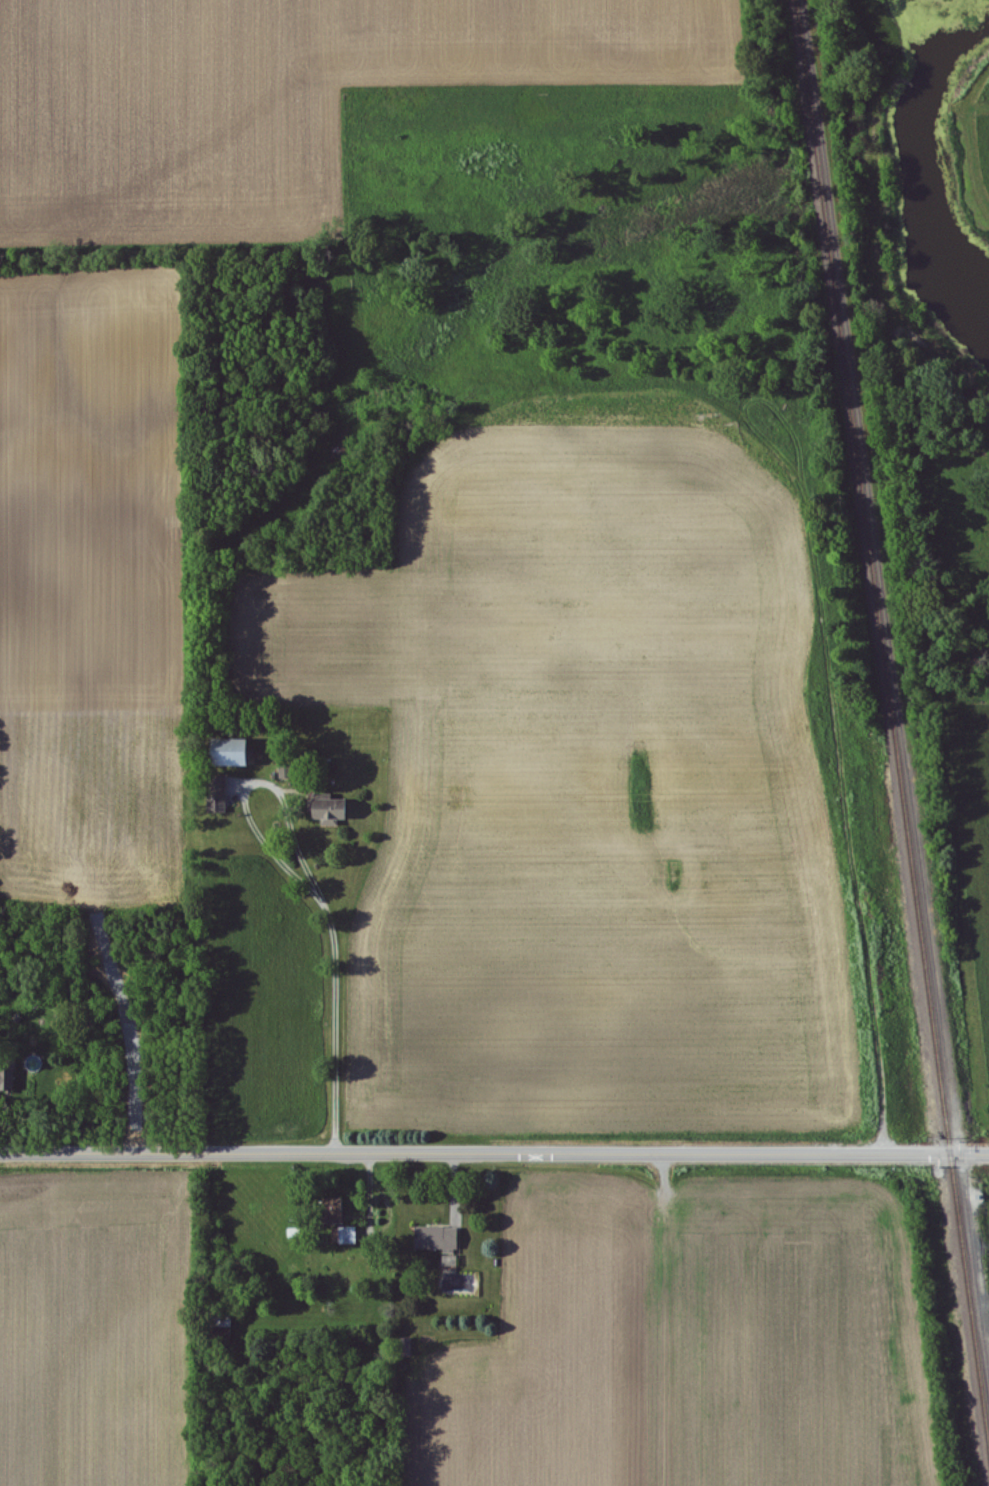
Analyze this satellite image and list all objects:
railway: (896, 678)
building: (223, 753)
building: (215, 795)
building: (326, 809)
road: (311, 878)
building: (5, 1081)
road: (494, 1148)
building: (331, 1211)
building: (346, 1235)
building: (435, 1239)
building: (405, 1347)

